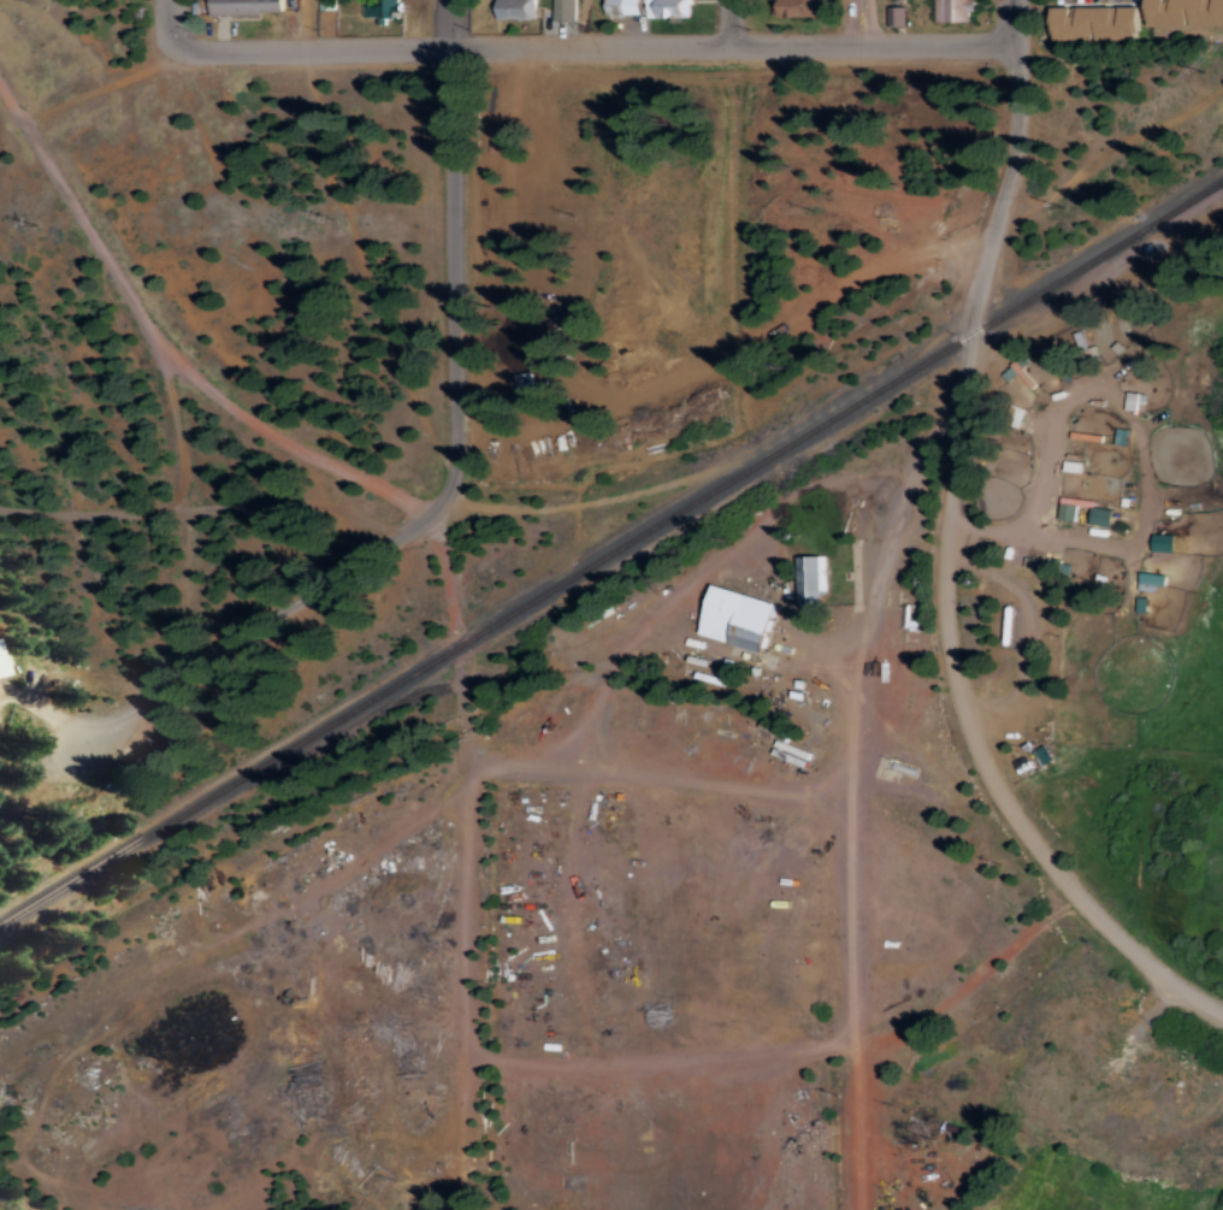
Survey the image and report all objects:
building: (622, 6)
building: (247, 7)
building: (805, 7)
building: (668, 8)
building: (379, 10)
building: (518, 10)
building: (566, 10)
building: (953, 10)
road: (1011, 12)
building: (1187, 12)
building: (896, 16)
road: (171, 19)
road: (587, 20)
road: (869, 20)
building: (1099, 20)
road: (732, 22)
road: (305, 23)
road: (596, 42)
road: (455, 325)
road: (169, 343)
building: (1136, 400)
railway: (841, 413)
road: (221, 504)
building: (1069, 510)
building: (1164, 542)
road: (947, 563)
building: (814, 579)
building: (1152, 579)
building: (740, 616)
building: (1, 662)
railway: (230, 785)
road: (469, 927)

